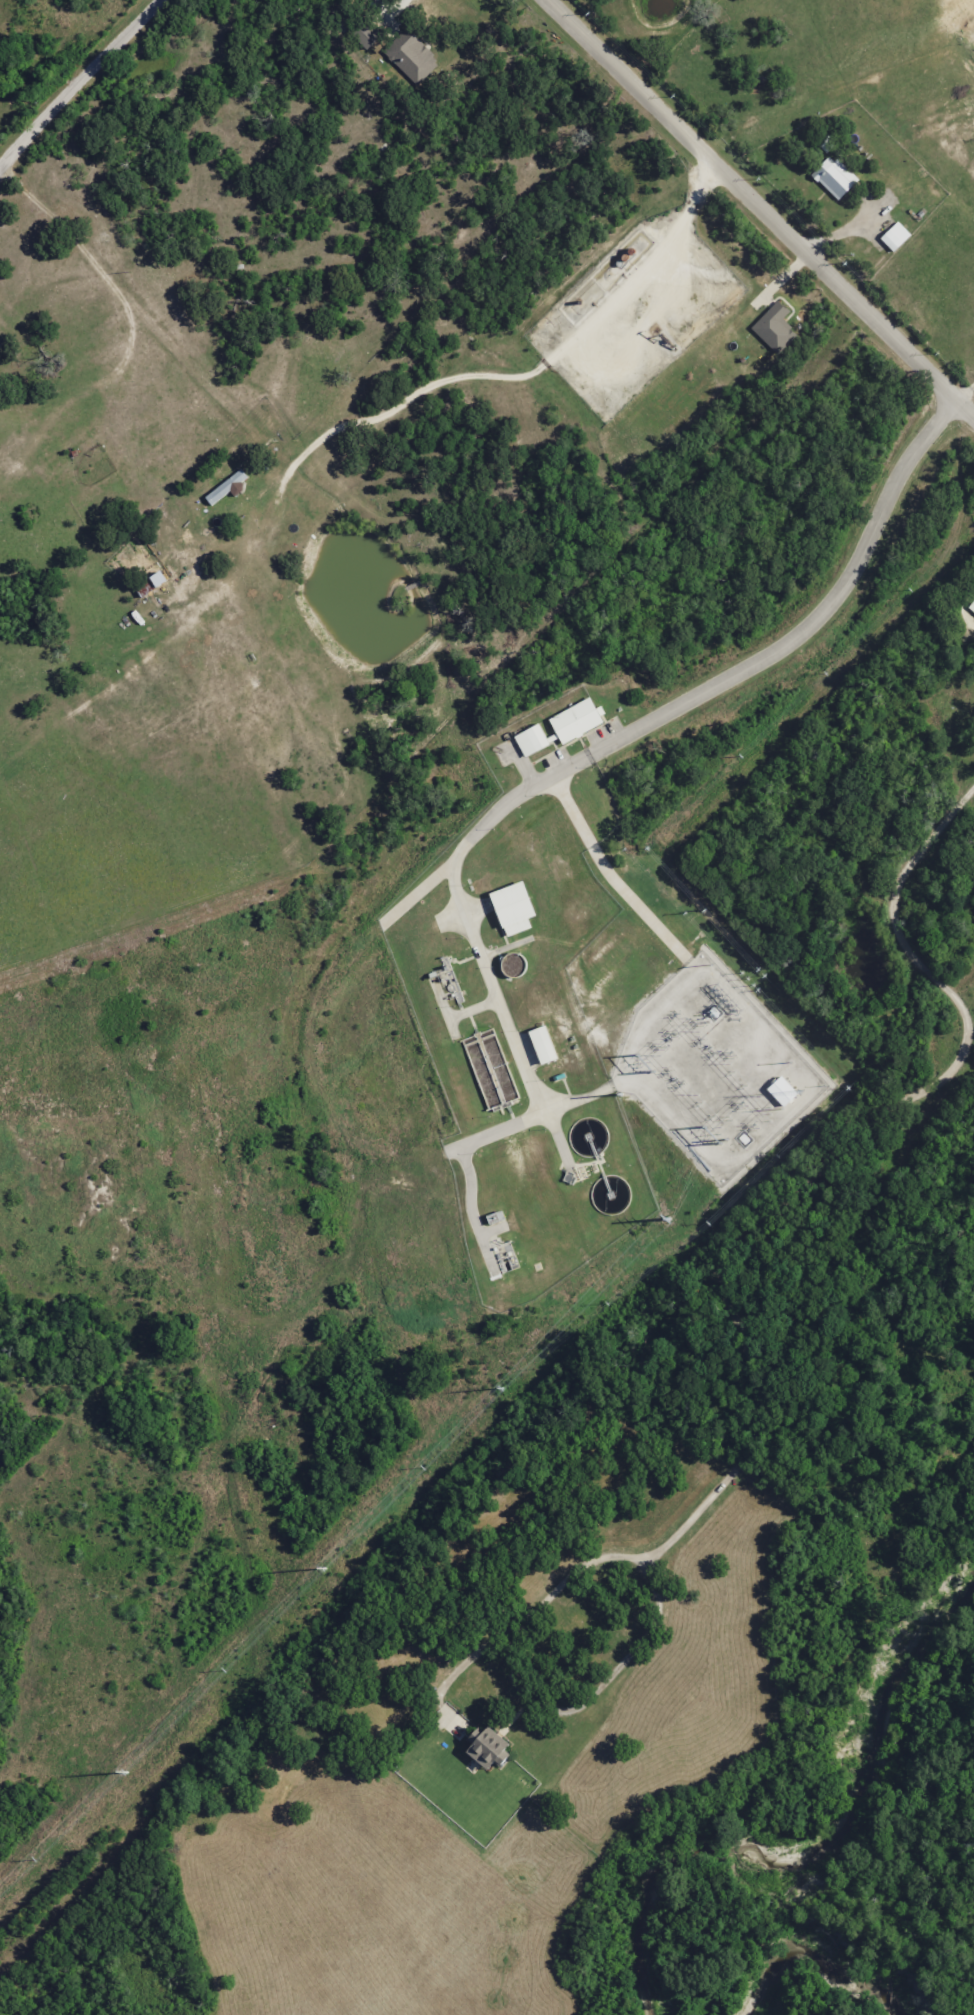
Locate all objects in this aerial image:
road: (395, 3)
building: (371, 36)
building: (413, 56)
road: (79, 82)
building: (836, 178)
road: (758, 207)
building: (897, 237)
building: (776, 328)
petroleum well: (658, 339)
road: (968, 396)
building: (228, 489)
building: (160, 579)
building: (972, 607)
road: (817, 618)
building: (578, 721)
building: (533, 741)
building: (516, 909)
building: (545, 1046)
power substation: (714, 1069)
power tower: (621, 1094)
road: (823, 1154)
power tower: (668, 1219)
power tower: (505, 1388)
power tower: (326, 1569)
road: (523, 1692)
building: (490, 1749)
power tower: (128, 1771)

